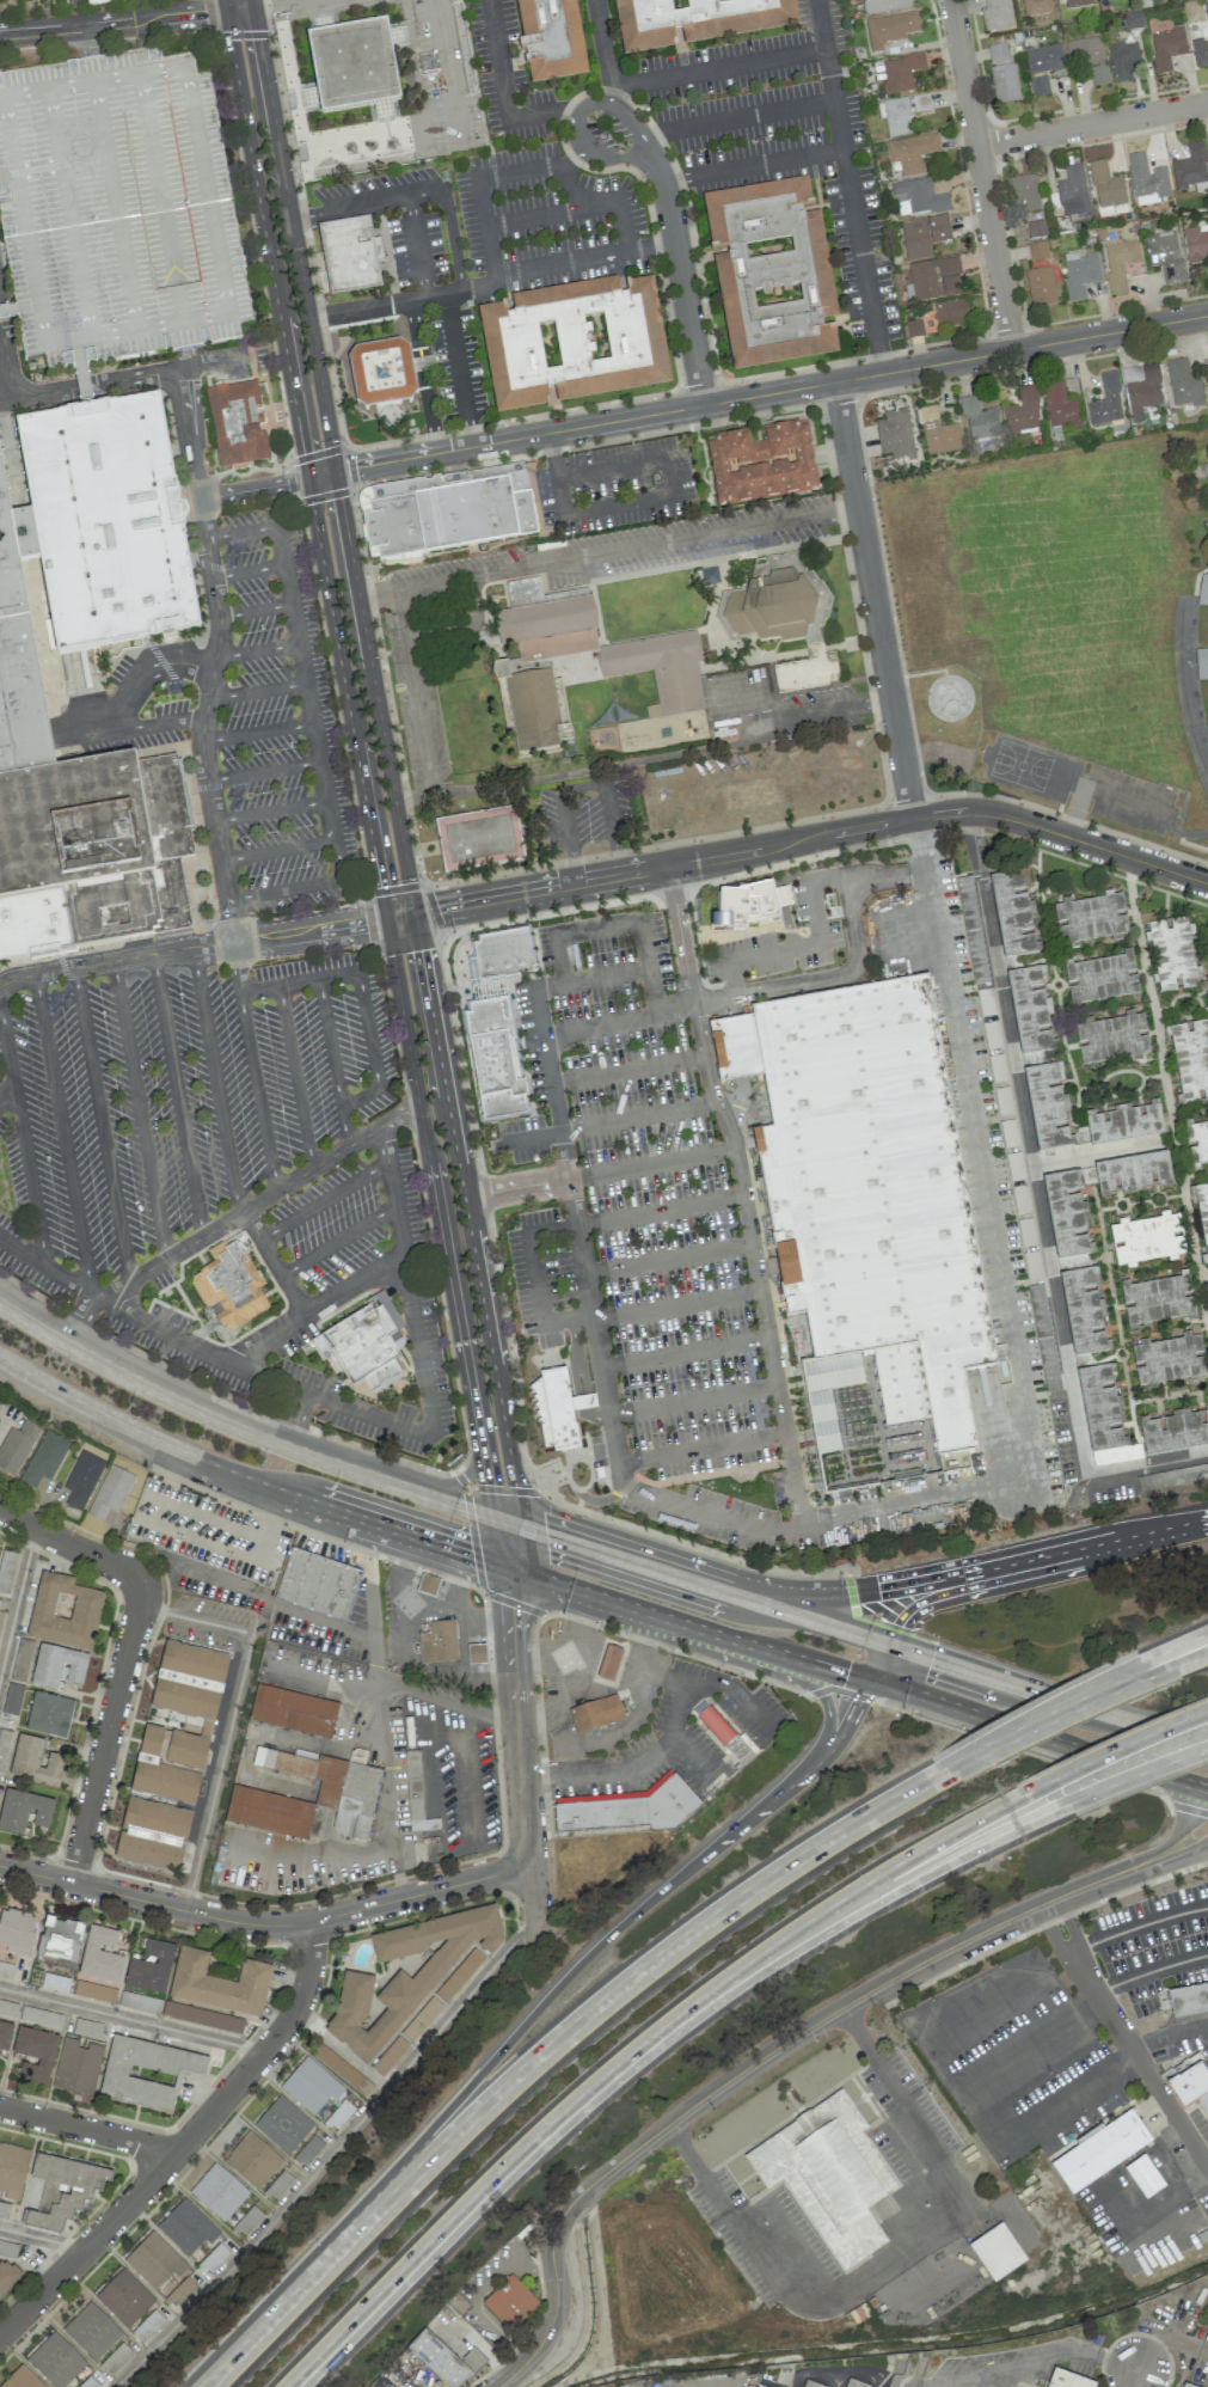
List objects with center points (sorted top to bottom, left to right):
parking lot: (69, 2)
road: (268, 2)
building: (1077, 4)
building: (884, 6)
building: (1036, 7)
road: (239, 8)
building: (1206, 10)
traffic signals: (204, 13)
building: (995, 16)
building: (695, 20)
road: (111, 22)
building: (890, 29)
traffic signals: (259, 39)
building: (551, 39)
road: (86, 41)
building: (1166, 48)
road: (602, 49)
building: (1084, 51)
building: (1200, 51)
building: (997, 53)
building: (1044, 57)
building: (1123, 60)
road: (728, 66)
building: (355, 67)
road: (442, 68)
building: (900, 72)
parking lot: (505, 75)
building: (1098, 75)
building: (1004, 84)
building: (1038, 85)
road: (613, 90)
road: (504, 91)
road: (597, 100)
building: (903, 112)
road: (734, 117)
road: (1094, 126)
parking lot: (608, 130)
parking lot: (781, 139)
road: (147, 141)
building: (912, 152)
road: (570, 158)
road: (752, 164)
building: (1190, 167)
road: (986, 173)
road: (7, 177)
building: (1147, 180)
road: (848, 186)
building: (1106, 186)
building: (1073, 191)
road: (421, 192)
building: (1024, 192)
building: (916, 197)
road: (576, 198)
road: (114, 204)
road: (348, 206)
building: (116, 209)
parking lot: (116, 209)
road: (68, 212)
road: (534, 216)
parking lot: (398, 218)
road: (303, 222)
building: (1036, 228)
building: (924, 235)
road: (264, 238)
road: (453, 239)
building: (1196, 243)
road: (650, 245)
road: (416, 246)
road: (167, 249)
parking lot: (526, 250)
building: (1037, 250)
building: (349, 255)
building: (1165, 256)
building: (1207, 259)
building: (1118, 263)
road: (679, 273)
building: (771, 274)
building: (1080, 274)
building: (936, 277)
building: (1040, 287)
road: (471, 288)
road: (378, 305)
road: (26, 307)
road: (7, 311)
building: (951, 313)
road: (180, 317)
road: (413, 329)
building: (913, 329)
road: (44, 343)
building: (574, 343)
road: (186, 356)
road: (215, 359)
road: (458, 369)
road: (422, 373)
building: (381, 374)
building: (1207, 381)
building: (1183, 384)
road: (68, 387)
building: (1141, 390)
road: (772, 393)
building: (1105, 400)
building: (1059, 406)
road: (184, 410)
building: (1023, 411)
building: (239, 416)
building: (979, 420)
road: (431, 421)
building: (938, 433)
building: (895, 435)
traffic signals: (302, 452)
road: (333, 457)
road: (288, 460)
building: (761, 464)
traffic signals: (355, 467)
road: (321, 475)
road: (252, 488)
road: (646, 496)
traffic signals: (339, 497)
building: (446, 512)
building: (1207, 521)
building: (106, 524)
building: (1207, 525)
road: (259, 528)
road: (607, 550)
road: (247, 570)
road: (287, 583)
building: (1203, 590)
building: (526, 592)
road: (872, 600)
building: (772, 607)
road: (255, 611)
road: (217, 617)
road: (294, 623)
road: (461, 628)
building: (548, 629)
road: (256, 650)
building: (18, 653)
road: (301, 663)
building: (1201, 663)
road: (146, 669)
building: (807, 671)
building: (663, 679)
road: (385, 685)
road: (256, 691)
road: (413, 691)
park: (948, 696)
road: (345, 698)
road: (308, 703)
building: (534, 705)
road: (809, 712)
parking lot: (281, 720)
road: (163, 723)
building: (1207, 729)
road: (257, 733)
park: (936, 735)
road: (317, 742)
park: (1019, 763)
road: (263, 771)
road: (564, 775)
road: (580, 777)
road: (324, 781)
road: (581, 783)
parking lot: (1130, 801)
road: (271, 810)
parking lot: (587, 812)
road: (332, 820)
road: (813, 837)
building: (479, 839)
building: (99, 844)
road: (219, 847)
road: (341, 858)
traffic signals: (379, 885)
road: (1047, 887)
road: (393, 888)
road: (1165, 893)
road: (1041, 899)
building: (747, 906)
traffic signals: (437, 910)
building: (1012, 910)
building: (1087, 916)
road: (398, 917)
building: (32, 923)
traffic signals: (366, 923)
building: (971, 928)
road: (233, 929)
road: (572, 932)
road: (191, 948)
traffic signals: (418, 950)
road: (1096, 950)
building: (1171, 953)
building: (505, 954)
road: (1037, 961)
road: (237, 967)
road: (649, 968)
road: (336, 975)
building: (1099, 977)
road: (591, 978)
road: (298, 983)
road: (1062, 984)
road: (774, 987)
road: (258, 990)
road: (1178, 994)
road: (1203, 1009)
building: (1029, 1011)
road: (1190, 1015)
building: (1109, 1036)
road: (1062, 1040)
road: (330, 1043)
road: (369, 1047)
road: (1069, 1047)
road: (458, 1052)
road: (8, 1055)
building: (1189, 1057)
building: (498, 1058)
road: (627, 1071)
road: (295, 1078)
road: (214, 1082)
road: (256, 1092)
road: (177, 1095)
road: (1167, 1096)
building: (1047, 1104)
road: (1189, 1108)
road: (139, 1109)
road: (638, 1118)
building: (1123, 1121)
road: (102, 1124)
road: (345, 1128)
road: (62, 1134)
road: (1170, 1140)
building: (1195, 1140)
road: (1028, 1143)
road: (1097, 1152)
road: (608, 1171)
building: (1132, 1173)
road: (29, 1174)
parking lot: (223, 1174)
road: (482, 1189)
road: (742, 1194)
road: (462, 1200)
road: (324, 1201)
road: (434, 1201)
road: (1139, 1201)
road: (1158, 1205)
road: (1122, 1211)
building: (1066, 1213)
building: (1201, 1213)
road: (233, 1217)
road: (576, 1224)
building: (872, 1224)
road: (568, 1229)
building: (1145, 1237)
road: (338, 1238)
parking lot: (648, 1241)
road: (1104, 1251)
road: (668, 1259)
road: (998, 1260)
road: (274, 1262)
road: (1204, 1275)
building: (233, 1280)
building: (1155, 1297)
road: (317, 1305)
road: (676, 1306)
building: (1083, 1306)
building: (1043, 1338)
building: (373, 1342)
road: (507, 1353)
road: (685, 1354)
road: (1116, 1355)
building: (1166, 1357)
road: (1169, 1396)
road: (694, 1402)
building: (1102, 1403)
road: (349, 1407)
building: (554, 1409)
road: (1132, 1414)
road: (295, 1419)
road: (244, 1428)
building: (1173, 1428)
building: (17, 1445)
road: (701, 1446)
building: (44, 1458)
road: (1147, 1463)
building: (81, 1479)
road: (246, 1479)
traffic signals: (484, 1483)
building: (110, 1492)
road: (493, 1501)
road: (509, 1504)
road: (699, 1510)
road: (1166, 1530)
traffic signals: (546, 1534)
road: (68, 1544)
road: (505, 1546)
road: (698, 1548)
traffic signals: (472, 1559)
road: (403, 1561)
building: (6, 1569)
road: (679, 1575)
road: (930, 1575)
building: (315, 1580)
road: (458, 1581)
road: (1000, 1583)
building: (427, 1585)
traffic signals: (876, 1587)
road: (17, 1598)
road: (418, 1606)
traffic signals: (509, 1606)
building: (0, 1611)
building: (63, 1611)
road: (478, 1622)
traffic signals: (901, 1626)
road: (687, 1627)
building: (439, 1642)
road: (565, 1644)
road: (609, 1644)
road: (1177, 1646)
building: (476, 1654)
traffic signals: (931, 1657)
road: (881, 1661)
building: (608, 1663)
road: (1183, 1664)
building: (57, 1666)
traffic signals: (846, 1673)
road: (769, 1675)
building: (189, 1681)
road: (1030, 1689)
building: (12, 1699)
road: (375, 1699)
road: (558, 1704)
building: (294, 1709)
road: (1044, 1712)
building: (595, 1713)
building: (49, 1714)
road: (231, 1716)
road: (516, 1716)
road: (632, 1719)
road: (1051, 1721)
building: (712, 1722)
road: (106, 1730)
road: (1040, 1733)
road: (1116, 1744)
road: (1034, 1751)
building: (27, 1758)
building: (152, 1765)
road: (594, 1774)
road: (1122, 1779)
building: (332, 1783)
building: (415, 1793)
building: (627, 1805)
building: (266, 1810)
building: (24, 1811)
road: (1188, 1823)
building: (152, 1835)
road: (1191, 1847)
road: (532, 1898)
road: (826, 1901)
road: (834, 1916)
road: (1071, 1922)
road: (1138, 1923)
road: (264, 1924)
road: (1042, 1924)
building: (16, 1929)
road: (1050, 1932)
building: (59, 1938)
building: (100, 1955)
building: (149, 1967)
building: (405, 1975)
building: (458, 1975)
road: (1151, 1976)
road: (564, 1982)
building: (219, 1983)
building: (93, 1991)
building: (1188, 1996)
building: (140, 2002)
road: (1100, 2002)
building: (202, 2016)
road: (952, 2016)
building: (421, 2019)
road: (131, 2020)
building: (5, 2034)
road: (1169, 2036)
road: (550, 2045)
road: (871, 2052)
building: (33, 2054)
road: (767, 2054)
building: (390, 2055)
building: (76, 2067)
building: (146, 2073)
building: (1185, 2077)
building: (311, 2086)
building: (1203, 2101)
road: (1170, 2107)
road: (989, 2117)
building: (282, 2124)
road: (88, 2130)
road: (183, 2144)
building: (1099, 2148)
building: (308, 2149)
road: (327, 2156)
building: (252, 2160)
road: (699, 2167)
building: (12, 2169)
building: (827, 2171)
building: (278, 2185)
building: (62, 2190)
building: (217, 2191)
road: (461, 2209)
building: (4, 2210)
building: (247, 2221)
building: (186, 2227)
road: (42, 2236)
building: (8, 2248)
building: (997, 2251)
building: (154, 2260)
road: (885, 2260)
building: (7, 2276)
road: (480, 2294)
building: (124, 2297)
building: (509, 2302)
building: (91, 2331)
building: (442, 2358)
building: (55, 2360)
road: (1019, 2367)
road: (1133, 2377)
building: (20, 2379)
building: (1066, 2379)
building: (854, 2381)
building: (811, 2382)
building: (766, 2383)
building: (388, 2386)
building: (1185, 2386)

